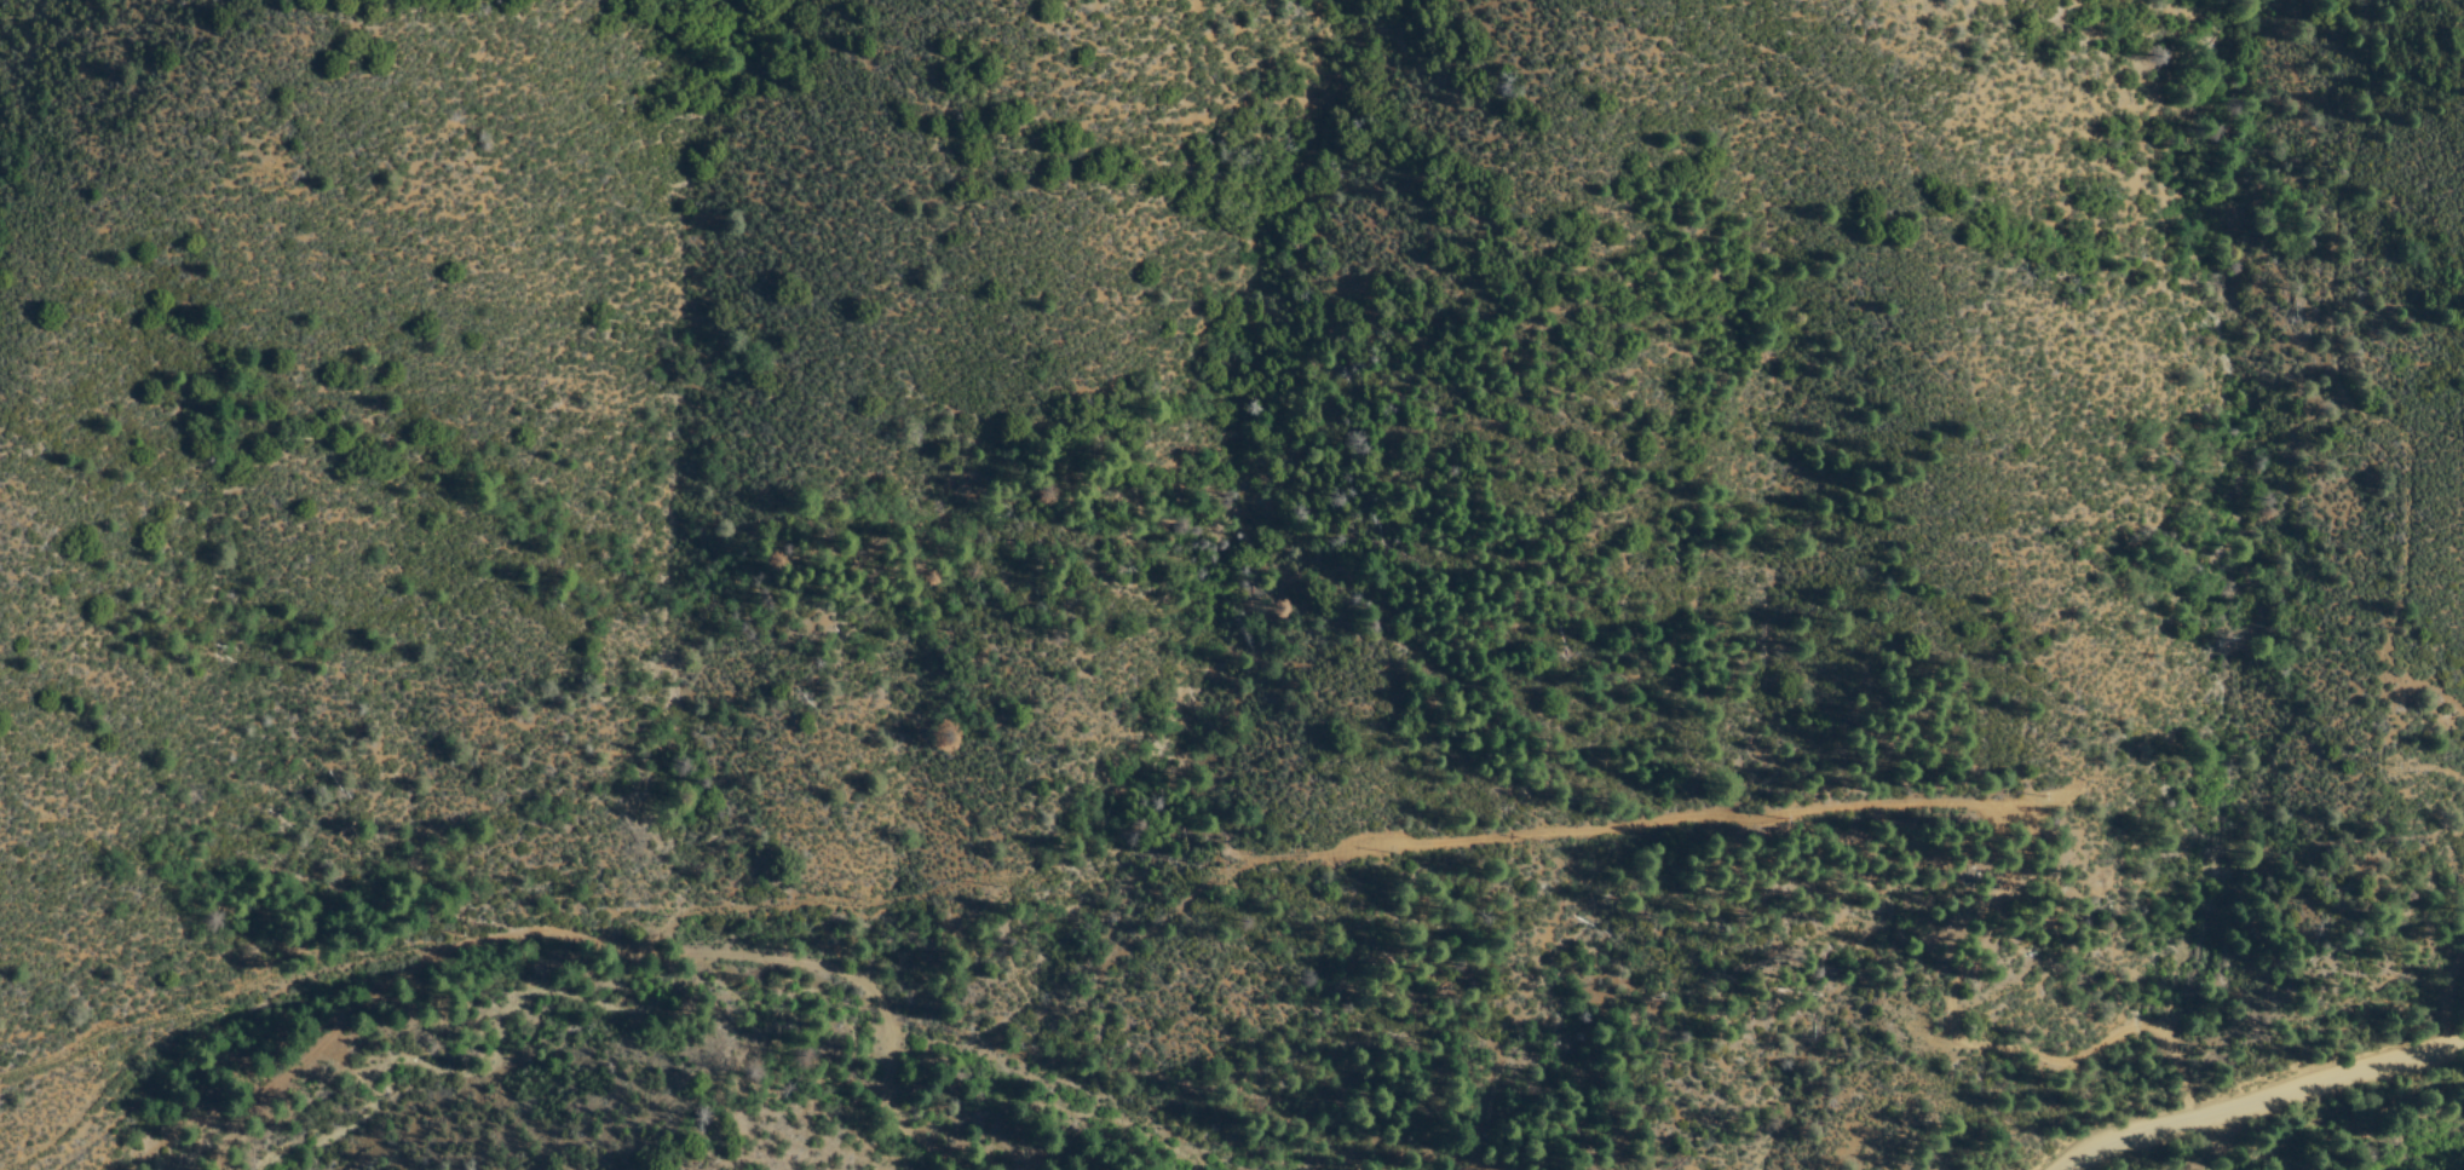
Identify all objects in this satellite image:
road: (2264, 1100)

